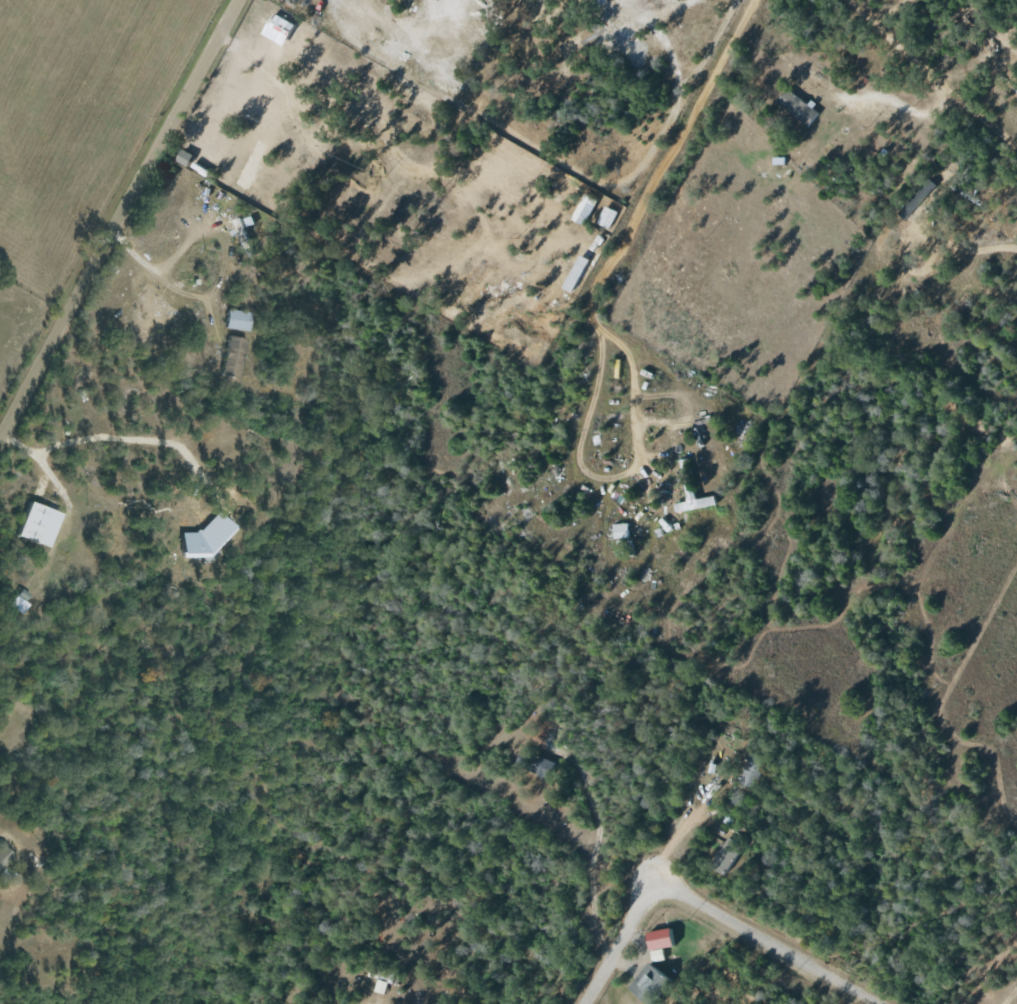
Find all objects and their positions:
road: (1004, 26)
road: (929, 32)
building: (794, 108)
road: (943, 154)
road: (668, 162)
building: (915, 199)
building: (583, 210)
building: (606, 217)
road: (119, 220)
building: (573, 273)
road: (215, 280)
building: (160, 308)
building: (235, 320)
building: (230, 357)
road: (129, 440)
road: (611, 476)
building: (33, 524)
building: (618, 531)
building: (199, 540)
building: (17, 601)
building: (542, 767)
building: (750, 770)
road: (682, 821)
building: (725, 856)
road: (699, 908)
building: (657, 939)
building: (656, 955)
building: (645, 983)
building: (380, 986)

